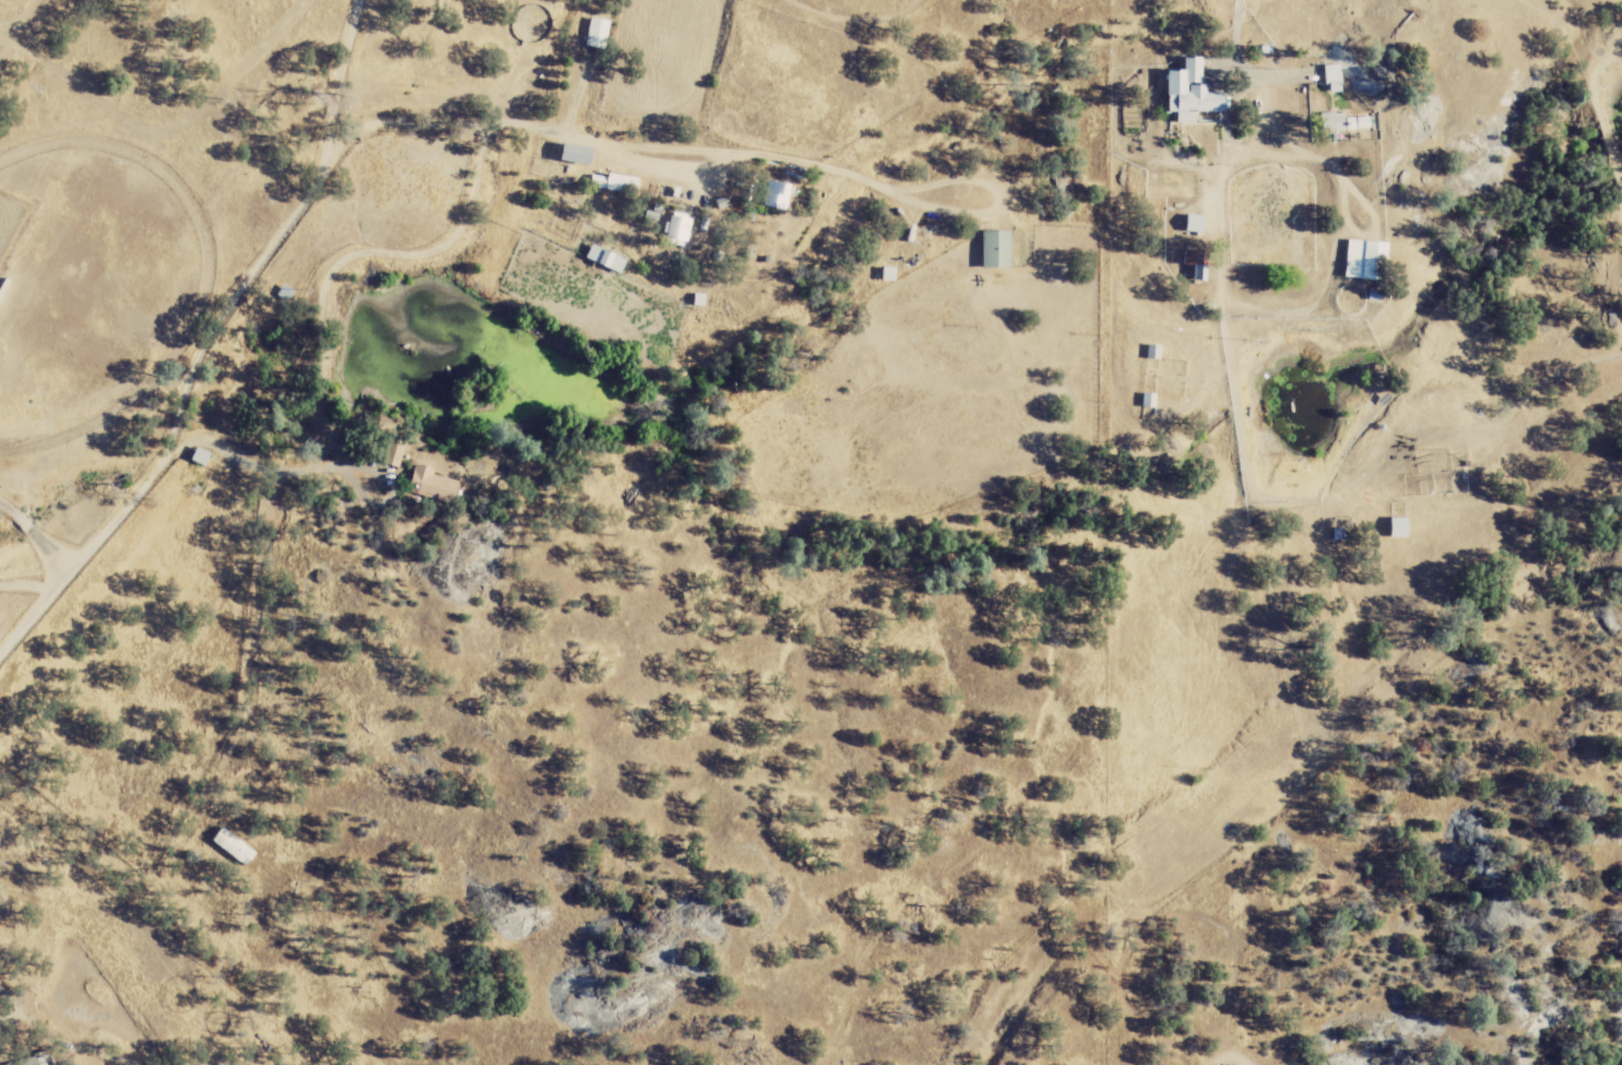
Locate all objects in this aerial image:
building: (599, 34)
road: (1233, 35)
building: (1336, 79)
building: (1192, 93)
building: (1346, 122)
road: (147, 145)
building: (577, 155)
road: (1323, 158)
road: (729, 166)
building: (615, 184)
building: (779, 196)
building: (1196, 224)
building: (997, 250)
building: (607, 260)
building: (1365, 260)
building: (1198, 267)
road: (332, 272)
building: (286, 295)
road: (1241, 304)
road: (180, 311)
road: (217, 346)
building: (201, 458)
road: (254, 461)
building: (433, 485)
road: (270, 507)
building: (1400, 529)
road: (34, 534)
road: (25, 587)
building: (235, 847)
road: (1619, 1038)
building: (32, 1062)

